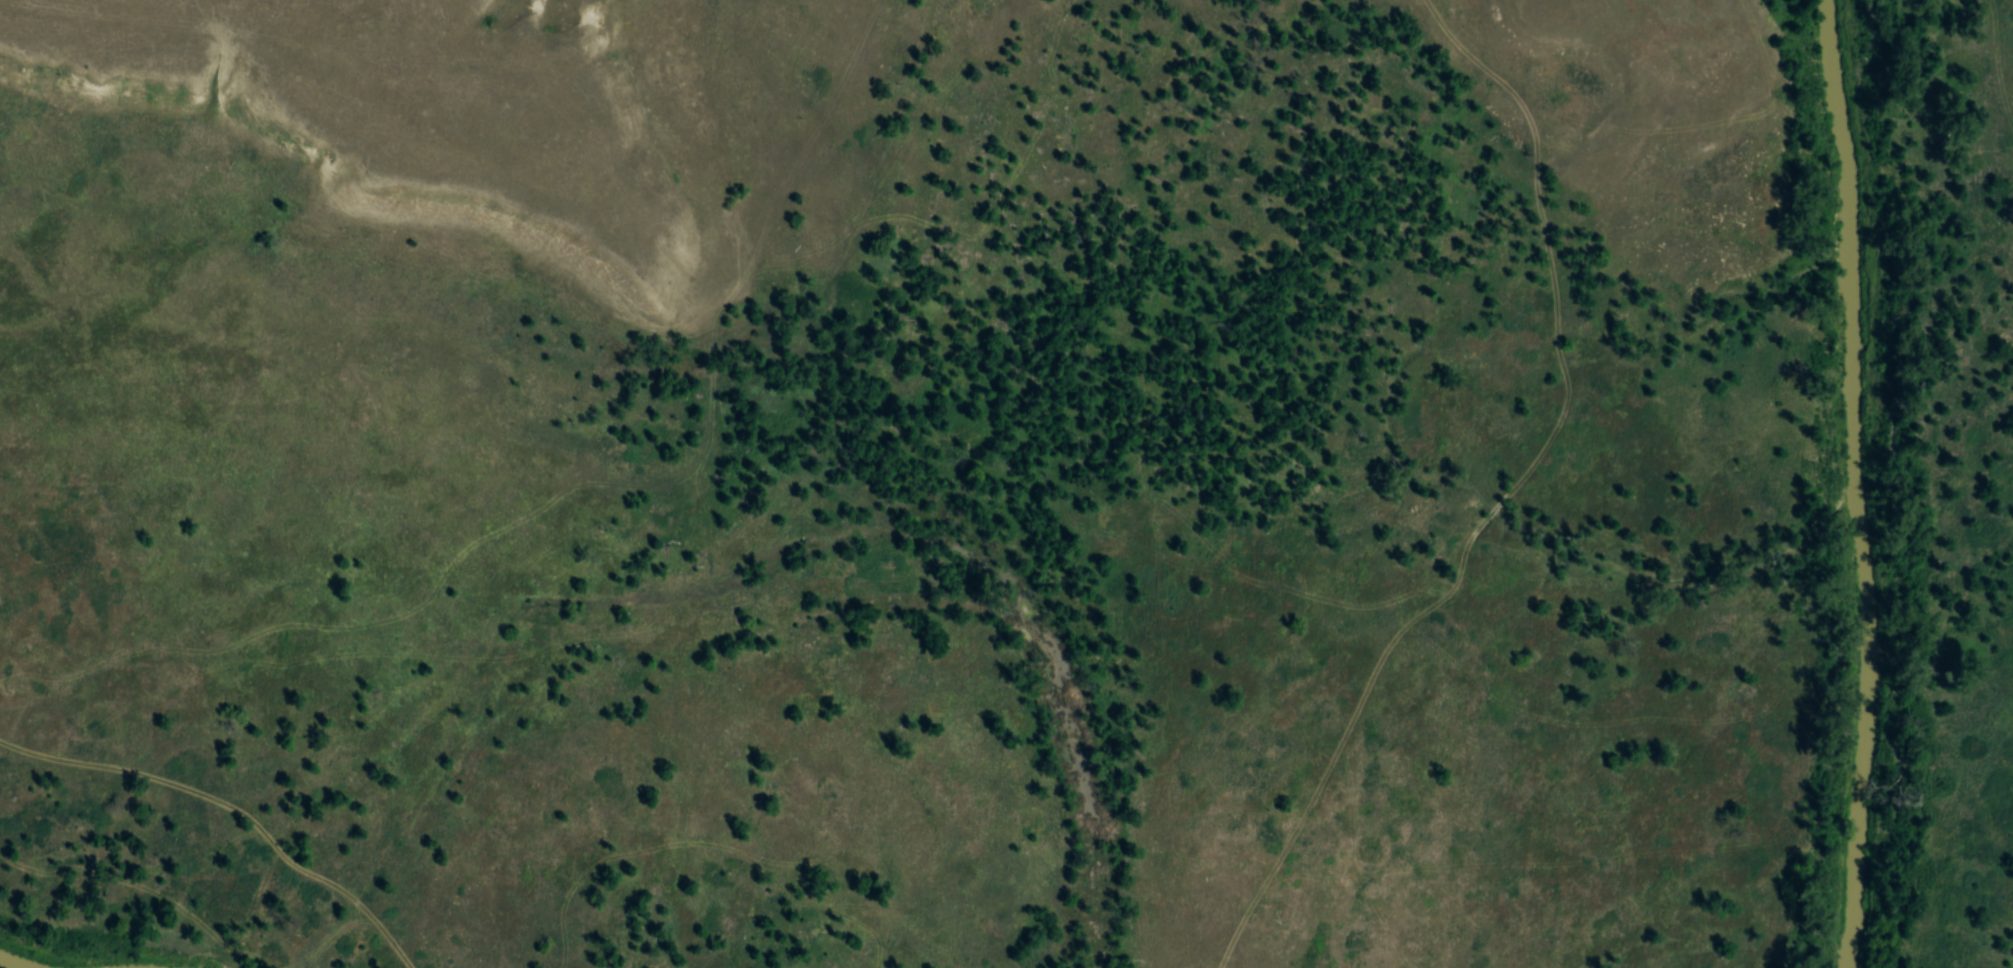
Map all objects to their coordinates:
river: (1855, 483)
road: (207, 837)
river: (14, 963)

